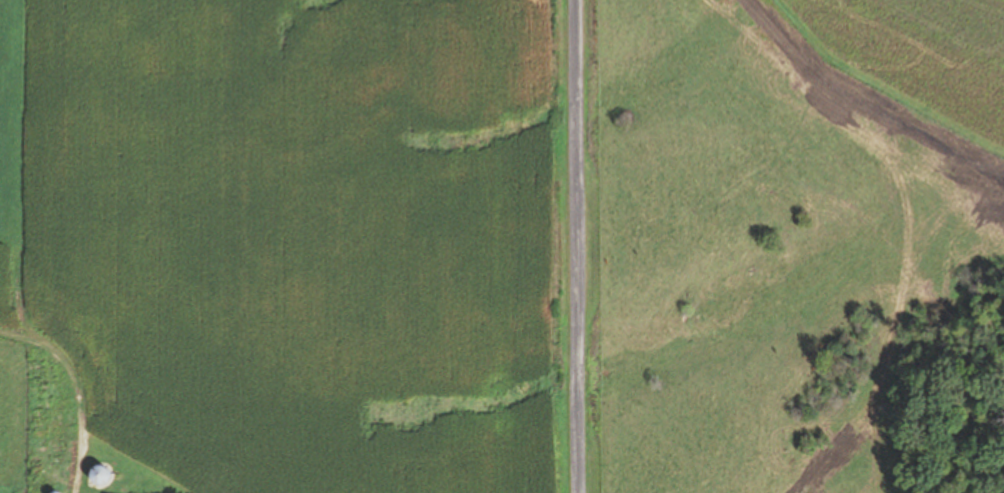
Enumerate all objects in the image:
road: (577, 246)
building: (98, 475)

